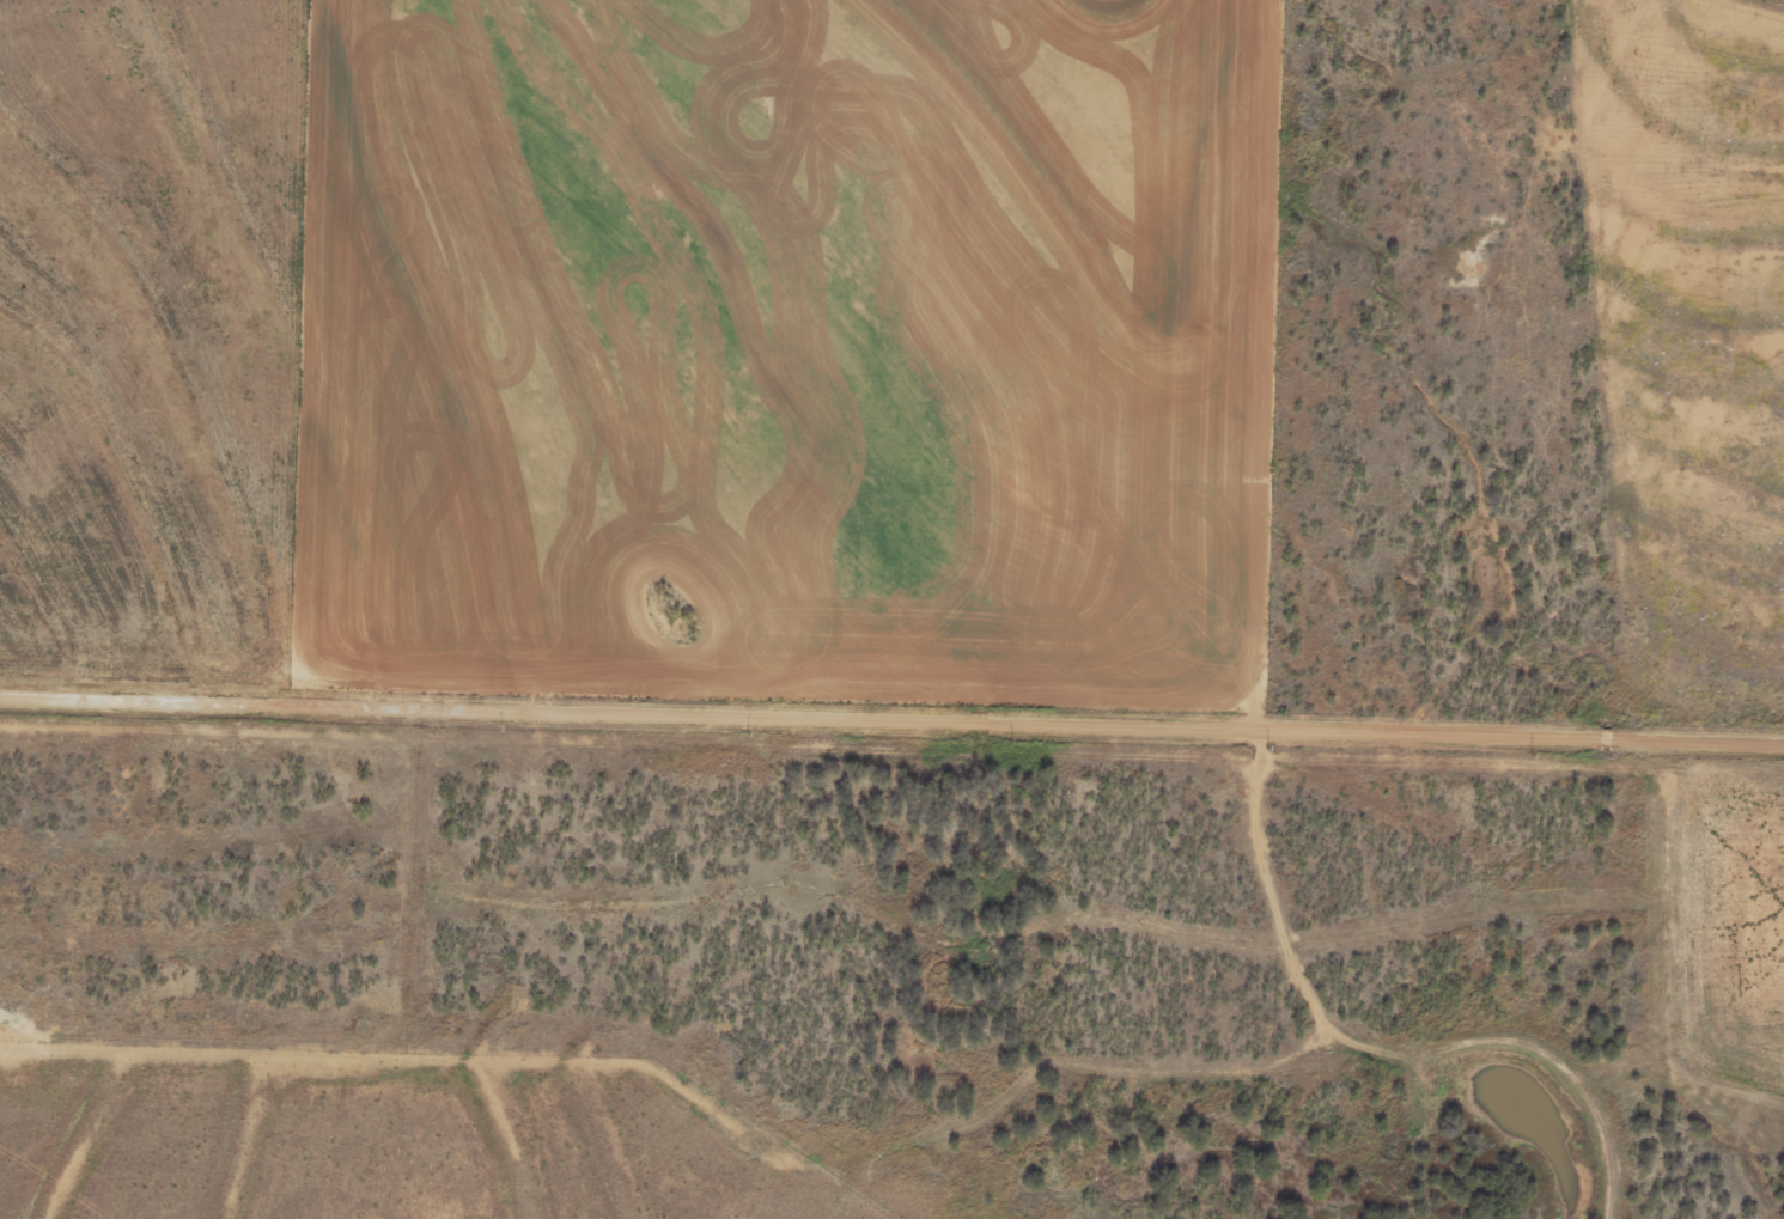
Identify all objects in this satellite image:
road: (891, 714)

